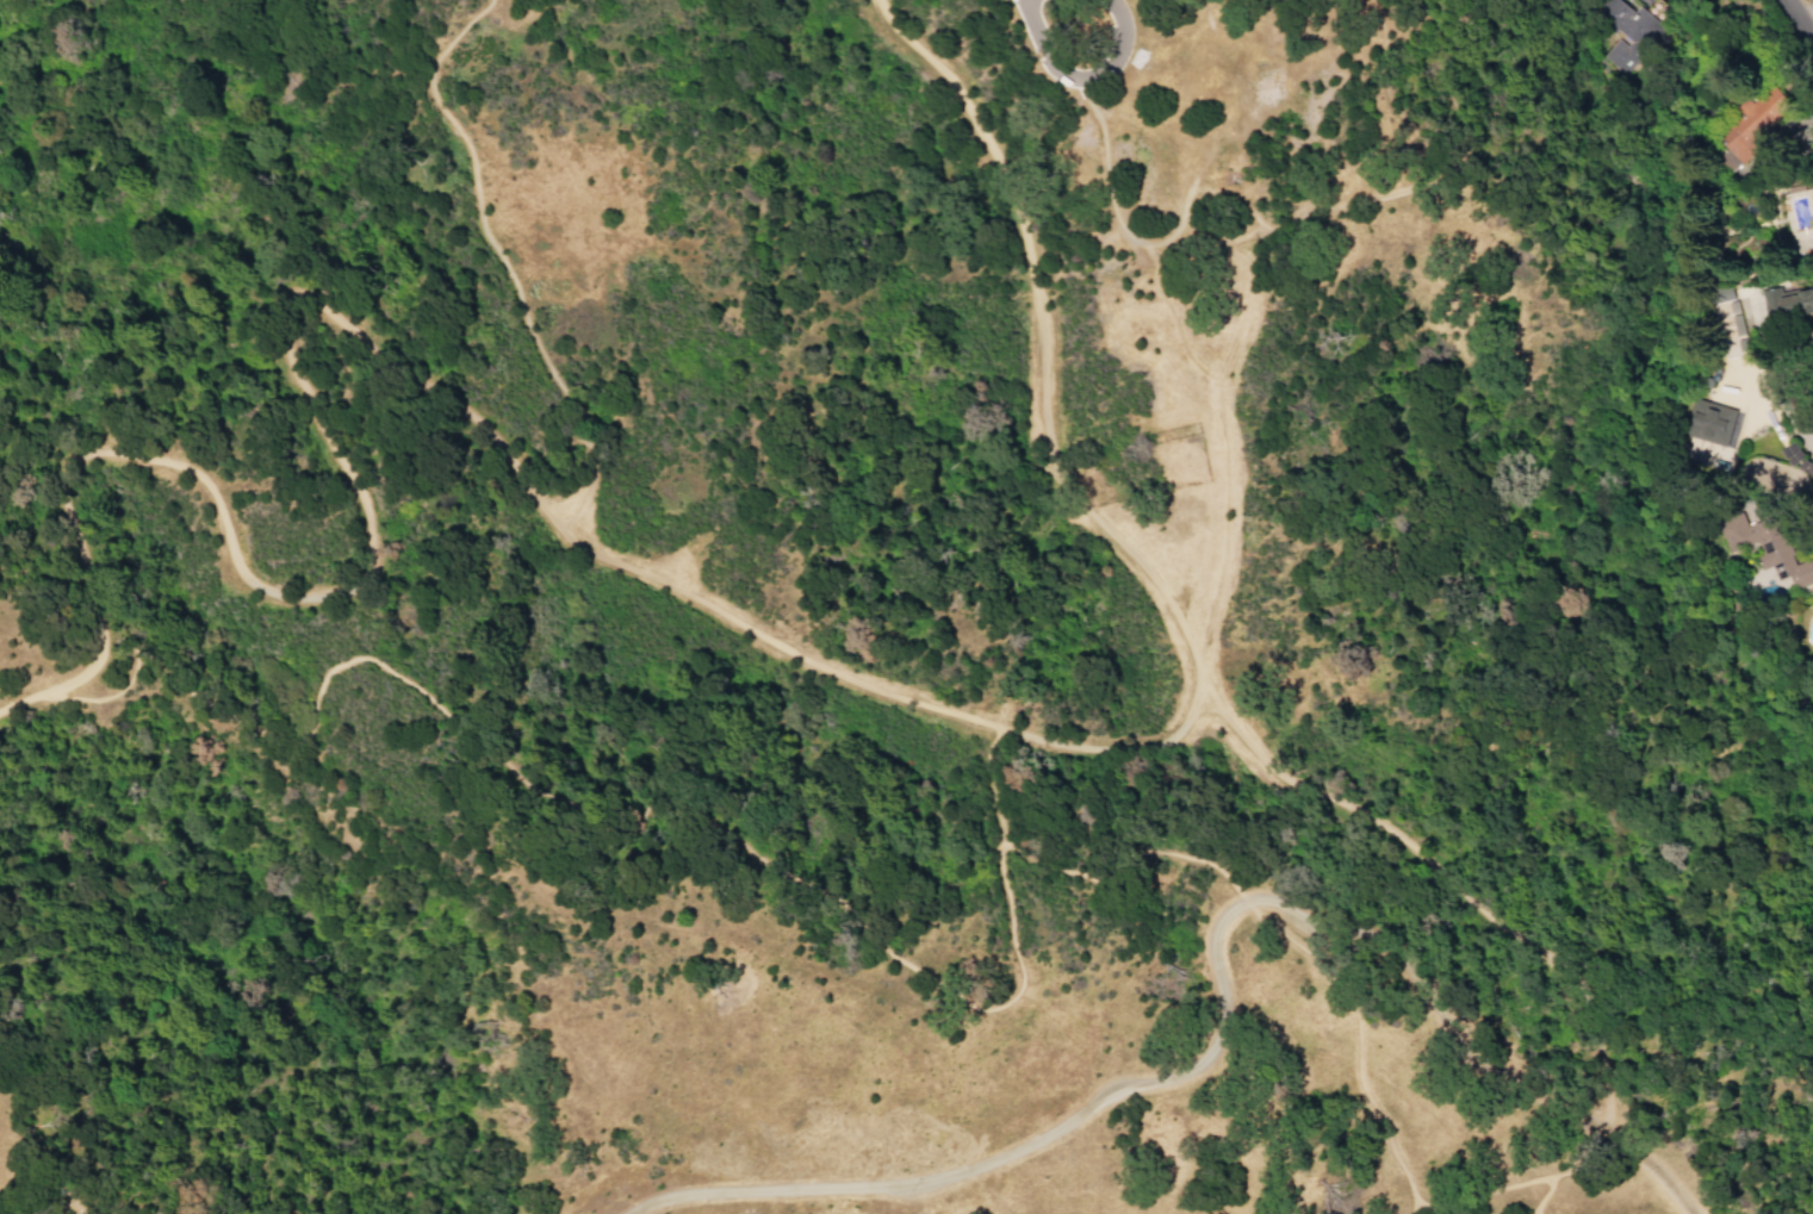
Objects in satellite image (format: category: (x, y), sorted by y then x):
road: (1800, 17)
building: (1629, 29)
road: (1082, 77)
building: (1746, 126)
road: (1107, 167)
road: (1448, 172)
road: (497, 260)
building: (1720, 293)
building: (1786, 303)
road: (1174, 317)
building: (1736, 324)
building: (1708, 423)
road: (1222, 441)
building: (1764, 548)
road: (620, 567)
road: (989, 785)
road: (1441, 877)
road: (843, 909)
road: (1204, 1053)
road: (1646, 1166)
road: (1521, 1183)
road: (1541, 1196)
road: (1407, 1209)

